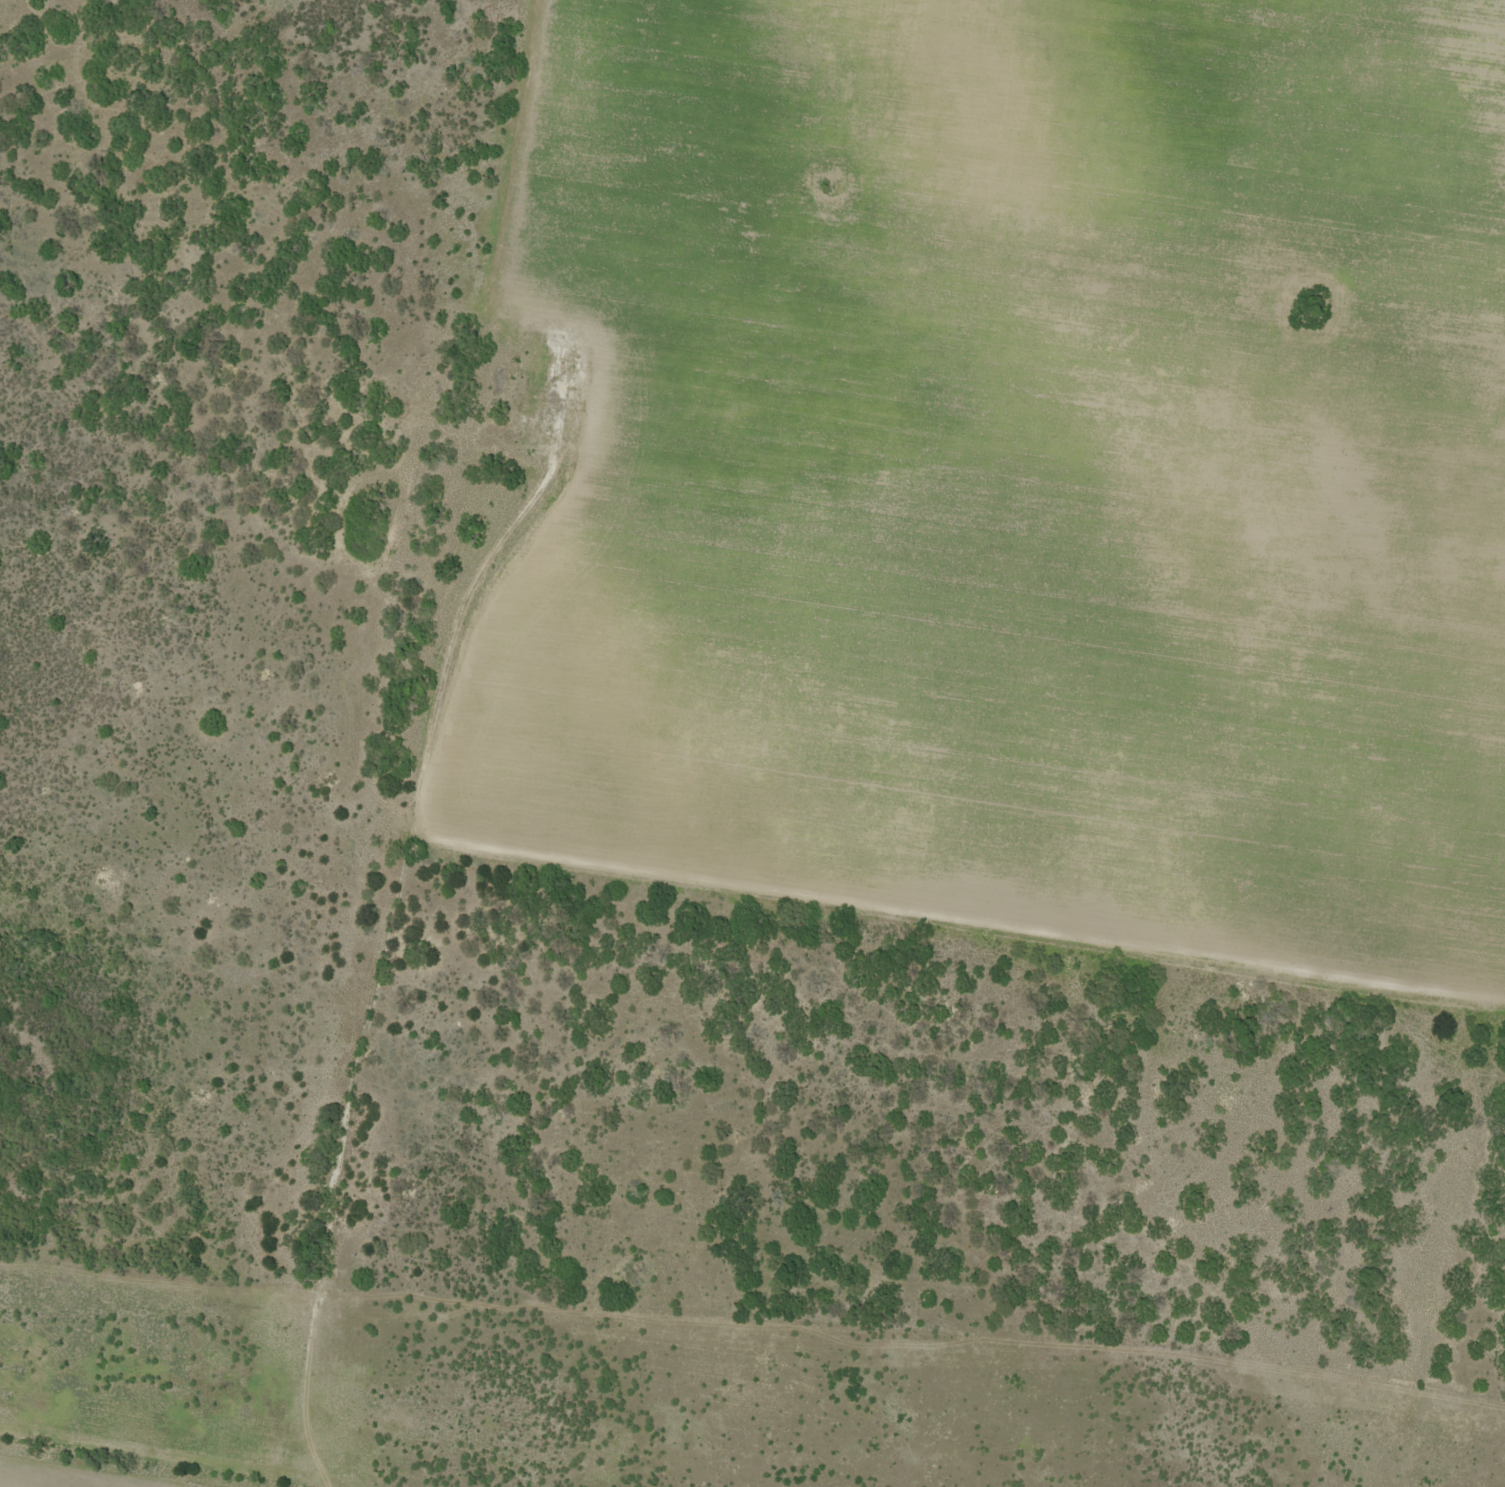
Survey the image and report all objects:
road: (964, 220)
road: (616, 893)
road: (142, 1425)

